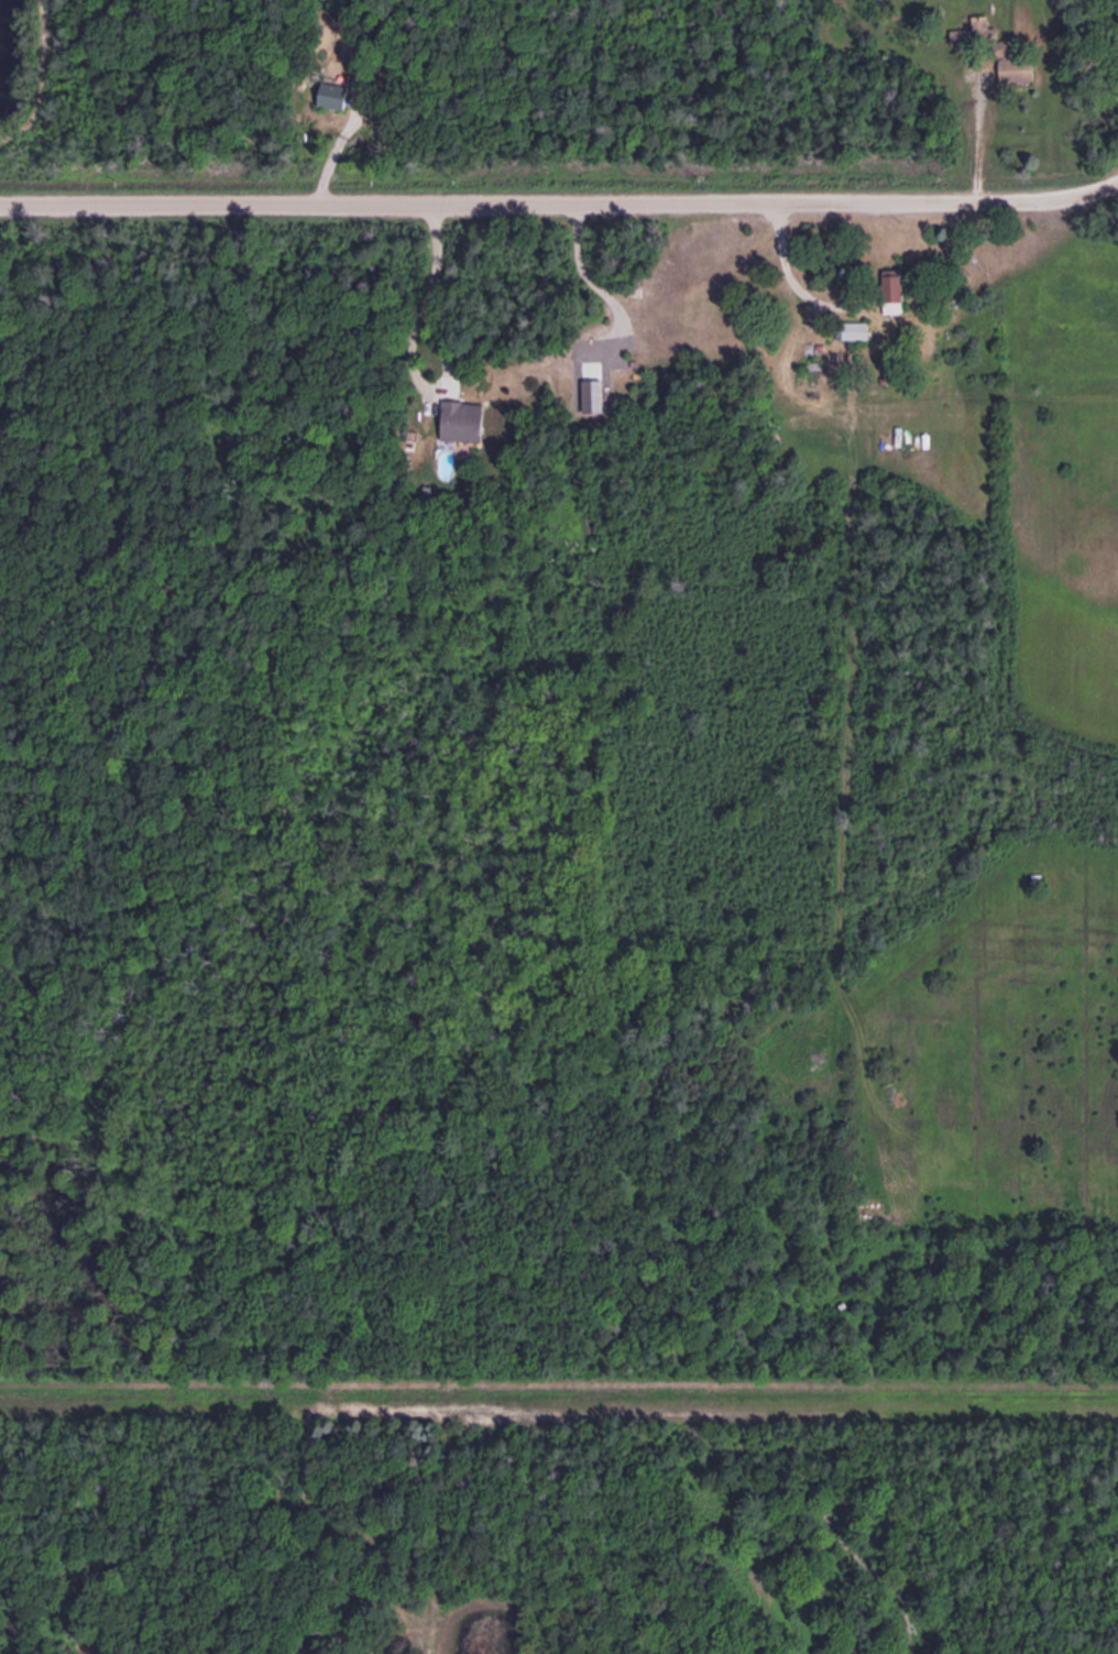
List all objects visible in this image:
building: (976, 30)
building: (1017, 67)
building: (335, 91)
road: (560, 198)
building: (463, 420)

